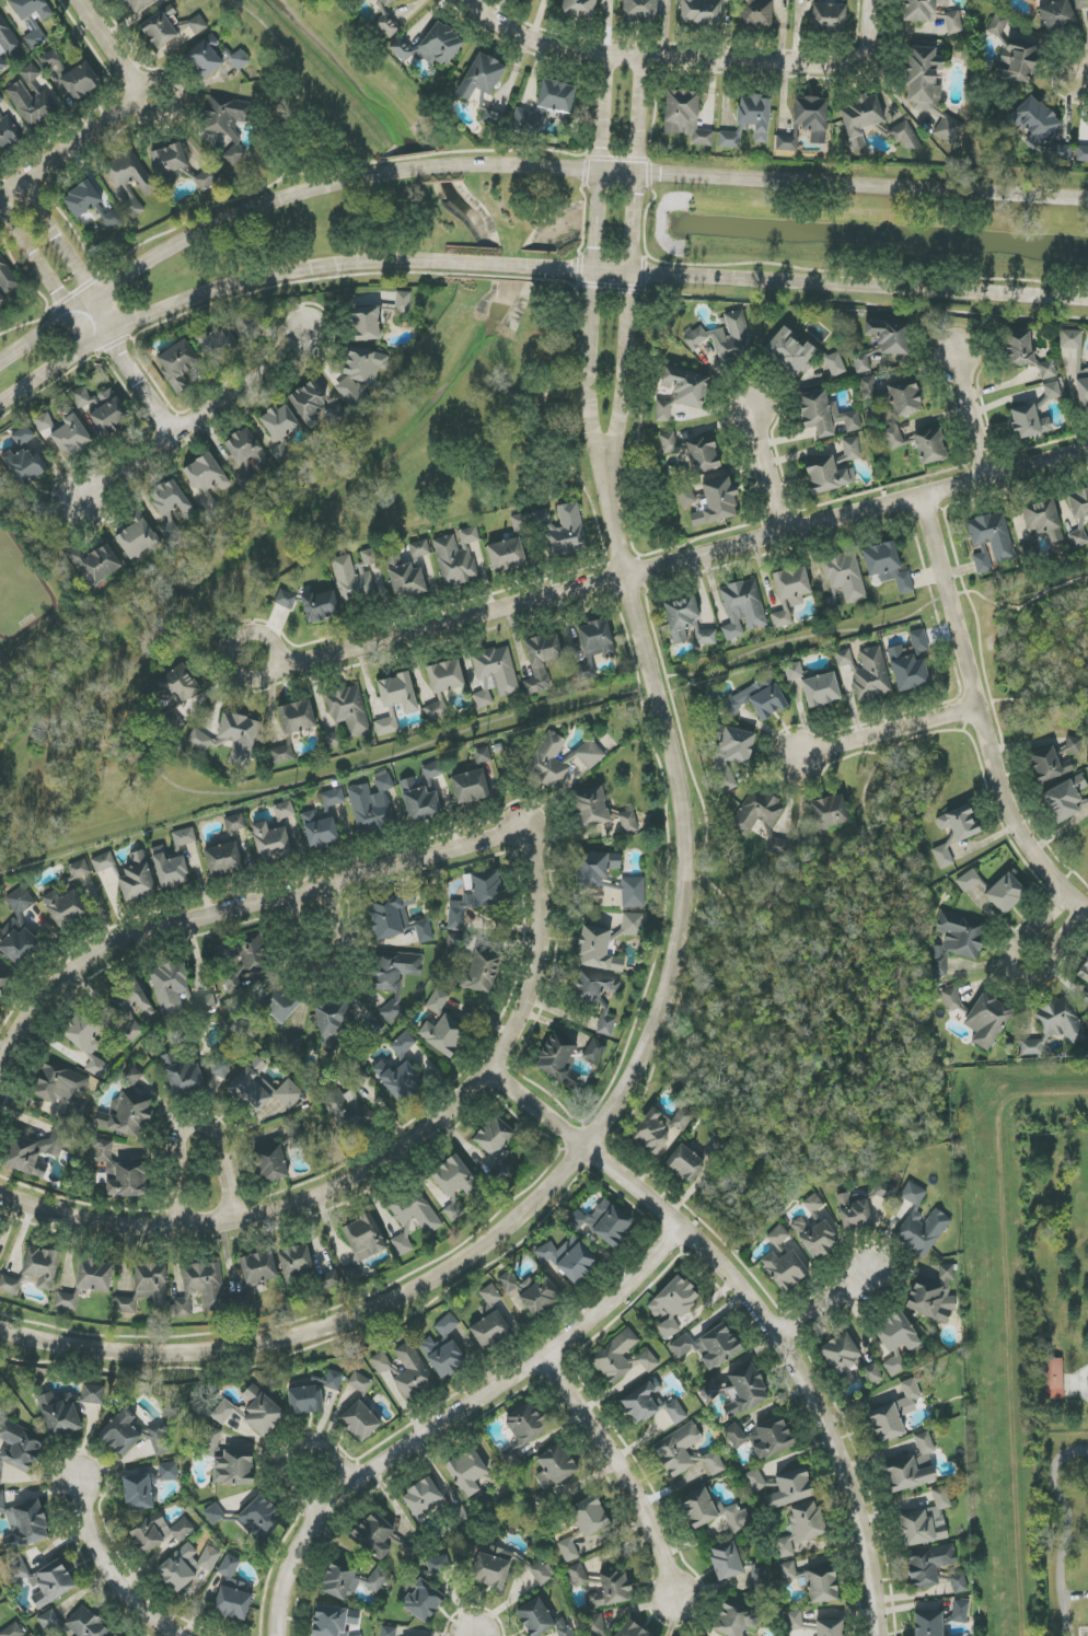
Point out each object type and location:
building: (526, 0)
building: (387, 1)
building: (138, 4)
building: (1080, 4)
building: (32, 8)
building: (580, 8)
building: (640, 10)
building: (922, 10)
building: (702, 12)
building: (756, 14)
building: (1057, 15)
building: (829, 16)
building: (953, 23)
building: (198, 24)
building: (387, 25)
building: (35, 36)
road: (548, 43)
building: (7, 44)
road: (108, 45)
building: (431, 46)
building: (1012, 53)
building: (205, 57)
road: (782, 62)
building: (55, 65)
building: (31, 72)
building: (482, 77)
road: (1083, 79)
building: (80, 81)
building: (33, 104)
building: (545, 106)
road: (602, 112)
road: (641, 116)
building: (755, 116)
building: (685, 117)
building: (811, 118)
building: (860, 118)
building: (225, 121)
building: (1041, 128)
building: (949, 129)
building: (7, 131)
building: (905, 136)
building: (787, 143)
road: (71, 150)
building: (1081, 154)
building: (170, 161)
road: (416, 166)
building: (131, 174)
building: (207, 178)
road: (767, 181)
building: (82, 199)
building: (123, 213)
road: (228, 221)
road: (63, 242)
road: (38, 258)
road: (498, 267)
road: (274, 278)
building: (5, 280)
road: (818, 288)
building: (403, 302)
building: (367, 324)
building: (248, 327)
road: (43, 334)
building: (890, 335)
road: (590, 336)
road: (627, 337)
building: (727, 338)
building: (1070, 339)
building: (218, 345)
building: (790, 352)
building: (177, 363)
building: (861, 363)
building: (835, 364)
road: (53, 370)
road: (132, 372)
building: (360, 374)
building: (1081, 380)
building: (686, 386)
building: (1052, 391)
building: (82, 397)
building: (904, 398)
building: (315, 405)
building: (663, 410)
building: (108, 413)
building: (825, 415)
road: (973, 417)
building: (62, 419)
building: (44, 421)
road: (201, 422)
building: (280, 422)
building: (1029, 422)
building: (23, 436)
building: (72, 437)
building: (893, 438)
building: (669, 442)
building: (243, 445)
building: (929, 446)
building: (703, 453)
building: (26, 465)
building: (833, 469)
road: (767, 471)
building: (207, 479)
road: (1002, 490)
building: (686, 497)
building: (170, 498)
building: (717, 502)
building: (1078, 503)
building: (1043, 520)
building: (137, 535)
building: (992, 535)
building: (572, 536)
building: (1078, 536)
building: (513, 549)
building: (460, 559)
road: (683, 559)
building: (96, 562)
building: (981, 562)
building: (888, 566)
building: (412, 575)
building: (845, 576)
building: (360, 582)
building: (790, 593)
building: (314, 604)
building: (830, 604)
building: (742, 608)
building: (686, 618)
road: (882, 625)
road: (264, 634)
building: (601, 640)
building: (919, 641)
building: (544, 664)
building: (795, 671)
building: (907, 671)
building: (868, 673)
building: (497, 675)
building: (181, 687)
building: (445, 687)
building: (821, 689)
road: (992, 698)
building: (759, 699)
building: (398, 703)
road: (1040, 709)
building: (348, 716)
road: (980, 717)
building: (296, 729)
road: (888, 731)
building: (232, 740)
road: (1028, 745)
building: (1074, 745)
building: (731, 753)
building: (590, 754)
building: (483, 755)
building: (549, 762)
building: (1046, 764)
building: (432, 770)
road: (338, 774)
road: (1004, 776)
building: (471, 787)
building: (333, 798)
building: (1066, 799)
building: (1087, 800)
building: (420, 803)
building: (372, 805)
building: (590, 808)
building: (283, 811)
building: (628, 822)
building: (235, 823)
building: (762, 823)
building: (958, 825)
building: (320, 831)
road: (1060, 832)
building: (184, 837)
building: (271, 843)
road: (868, 847)
building: (942, 856)
building: (224, 858)
building: (104, 862)
building: (594, 868)
road: (668, 868)
building: (79, 869)
road: (1073, 870)
building: (171, 871)
road: (701, 871)
building: (137, 878)
building: (969, 881)
building: (633, 892)
building: (1006, 894)
building: (476, 896)
building: (21, 901)
road: (238, 907)
building: (65, 908)
building: (397, 919)
building: (633, 923)
building: (16, 941)
building: (956, 941)
building: (454, 943)
building: (598, 950)
building: (253, 955)
road: (327, 971)
building: (1084, 972)
road: (1017, 973)
building: (481, 975)
building: (394, 976)
building: (2, 981)
building: (170, 988)
building: (593, 988)
building: (131, 998)
building: (437, 1001)
building: (278, 1002)
building: (206, 1005)
building: (987, 1020)
building: (1060, 1021)
building: (333, 1022)
building: (606, 1023)
building: (374, 1028)
building: (128, 1029)
building: (443, 1034)
building: (403, 1044)
building: (289, 1045)
building: (1031, 1047)
building: (595, 1051)
building: (556, 1057)
building: (183, 1075)
building: (132, 1076)
building: (400, 1080)
building: (62, 1089)
building: (261, 1091)
road: (520, 1091)
building: (347, 1101)
building: (126, 1115)
road: (197, 1124)
building: (660, 1128)
road: (593, 1135)
building: (496, 1148)
building: (30, 1155)
road: (380, 1162)
building: (686, 1163)
building: (270, 1164)
building: (120, 1172)
building: (454, 1177)
building: (886, 1191)
building: (453, 1211)
building: (854, 1213)
building: (414, 1219)
building: (604, 1222)
building: (921, 1223)
building: (814, 1229)
building: (0, 1234)
building: (362, 1244)
building: (568, 1258)
building: (296, 1262)
building: (784, 1262)
building: (42, 1266)
building: (258, 1268)
building: (93, 1275)
building: (10, 1285)
building: (146, 1288)
building: (200, 1288)
building: (532, 1292)
building: (934, 1296)
building: (68, 1300)
building: (241, 1303)
building: (673, 1304)
road: (826, 1304)
building: (447, 1325)
building: (490, 1330)
building: (896, 1333)
road: (782, 1335)
building: (708, 1346)
building: (615, 1356)
building: (841, 1356)
building: (443, 1357)
building: (648, 1361)
building: (896, 1364)
building: (406, 1370)
building: (872, 1374)
building: (1054, 1379)
building: (334, 1380)
building: (360, 1382)
building: (744, 1390)
building: (710, 1391)
building: (92, 1394)
building: (305, 1401)
building: (650, 1404)
building: (223, 1412)
building: (262, 1412)
building: (895, 1413)
building: (60, 1414)
building: (360, 1420)
road: (461, 1420)
building: (522, 1431)
building: (763, 1437)
building: (210, 1441)
building: (19, 1447)
building: (685, 1453)
building: (912, 1467)
building: (234, 1469)
building: (555, 1469)
building: (167, 1471)
building: (467, 1472)
road: (624, 1475)
road: (320, 1477)
building: (755, 1481)
building: (791, 1488)
building: (138, 1493)
building: (423, 1496)
building: (711, 1512)
building: (213, 1515)
building: (587, 1517)
building: (261, 1518)
building: (926, 1521)
building: (24, 1524)
building: (802, 1528)
road: (1067, 1531)
building: (160, 1534)
building: (374, 1534)
building: (568, 1550)
building: (209, 1558)
building: (726, 1562)
building: (438, 1565)
building: (929, 1565)
road: (108, 1566)
building: (506, 1568)
building: (178, 1569)
building: (788, 1571)
building: (578, 1575)
building: (45, 1581)
building: (350, 1581)
building: (959, 1582)
building: (822, 1585)
building: (612, 1589)
building: (232, 1592)
building: (0, 1598)
building: (424, 1601)
building: (960, 1612)
building: (540, 1618)
building: (49, 1620)
building: (736, 1620)
building: (334, 1621)
building: (795, 1621)
building: (84, 1624)
building: (929, 1624)
building: (593, 1625)
building: (829, 1627)
building: (13, 1631)
building: (632, 1631)
building: (389, 1632)

